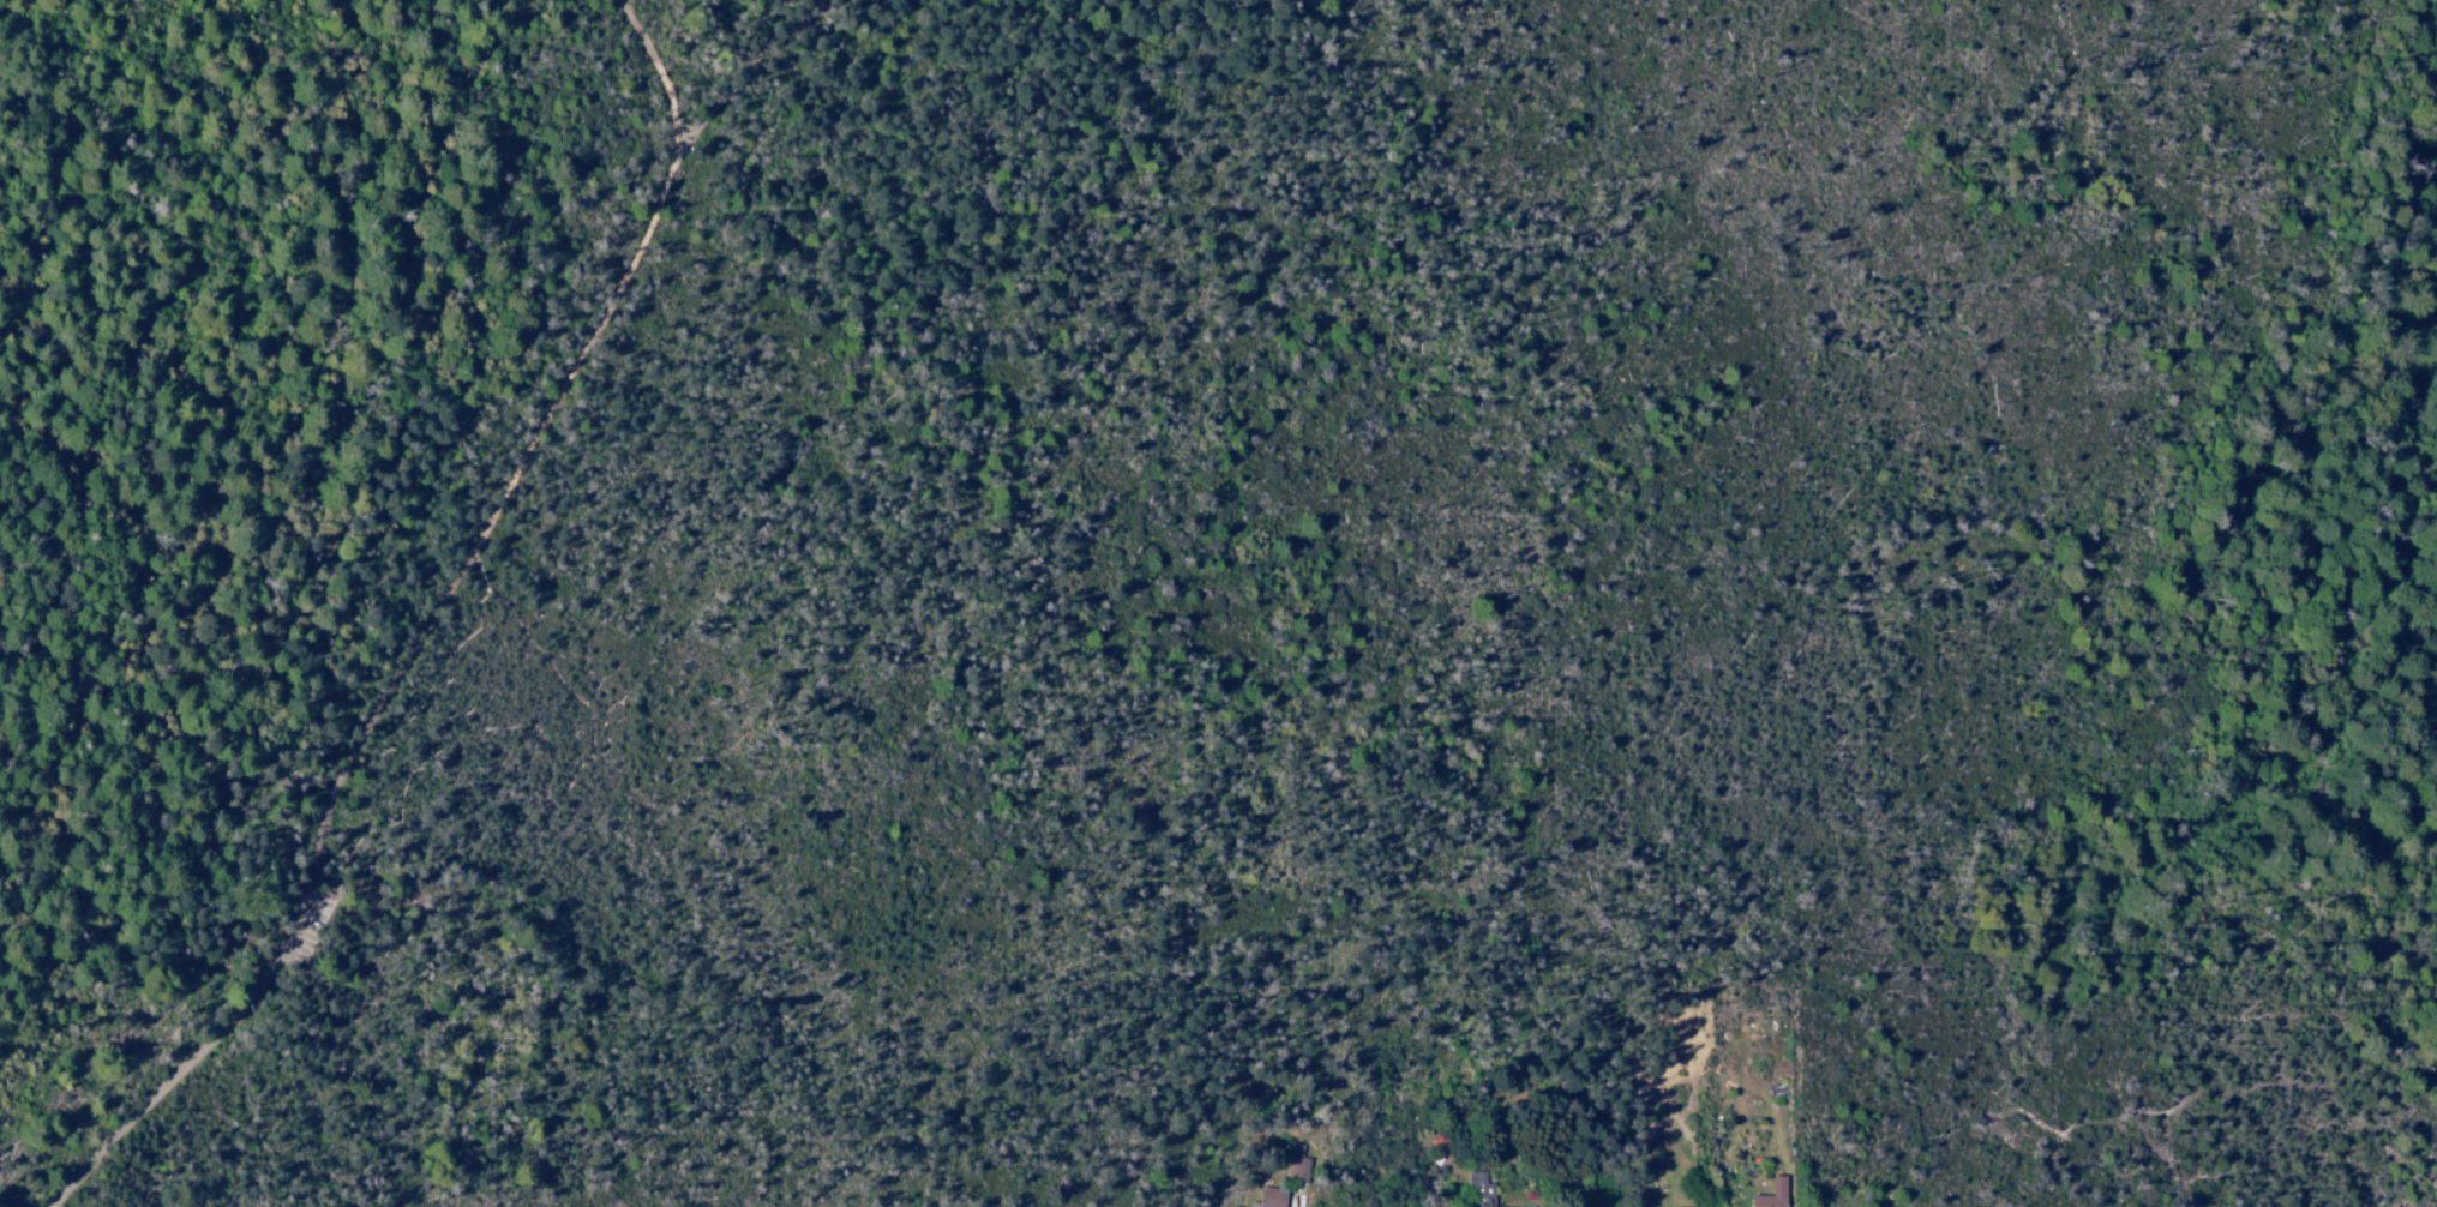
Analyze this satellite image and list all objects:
road: (758, 55)
road: (536, 443)
road: (484, 576)
road: (480, 595)
road: (353, 853)
parking lot: (318, 929)
road: (205, 1053)
building: (1295, 1163)
building: (1478, 1189)
building: (1767, 1195)
building: (1269, 1196)

